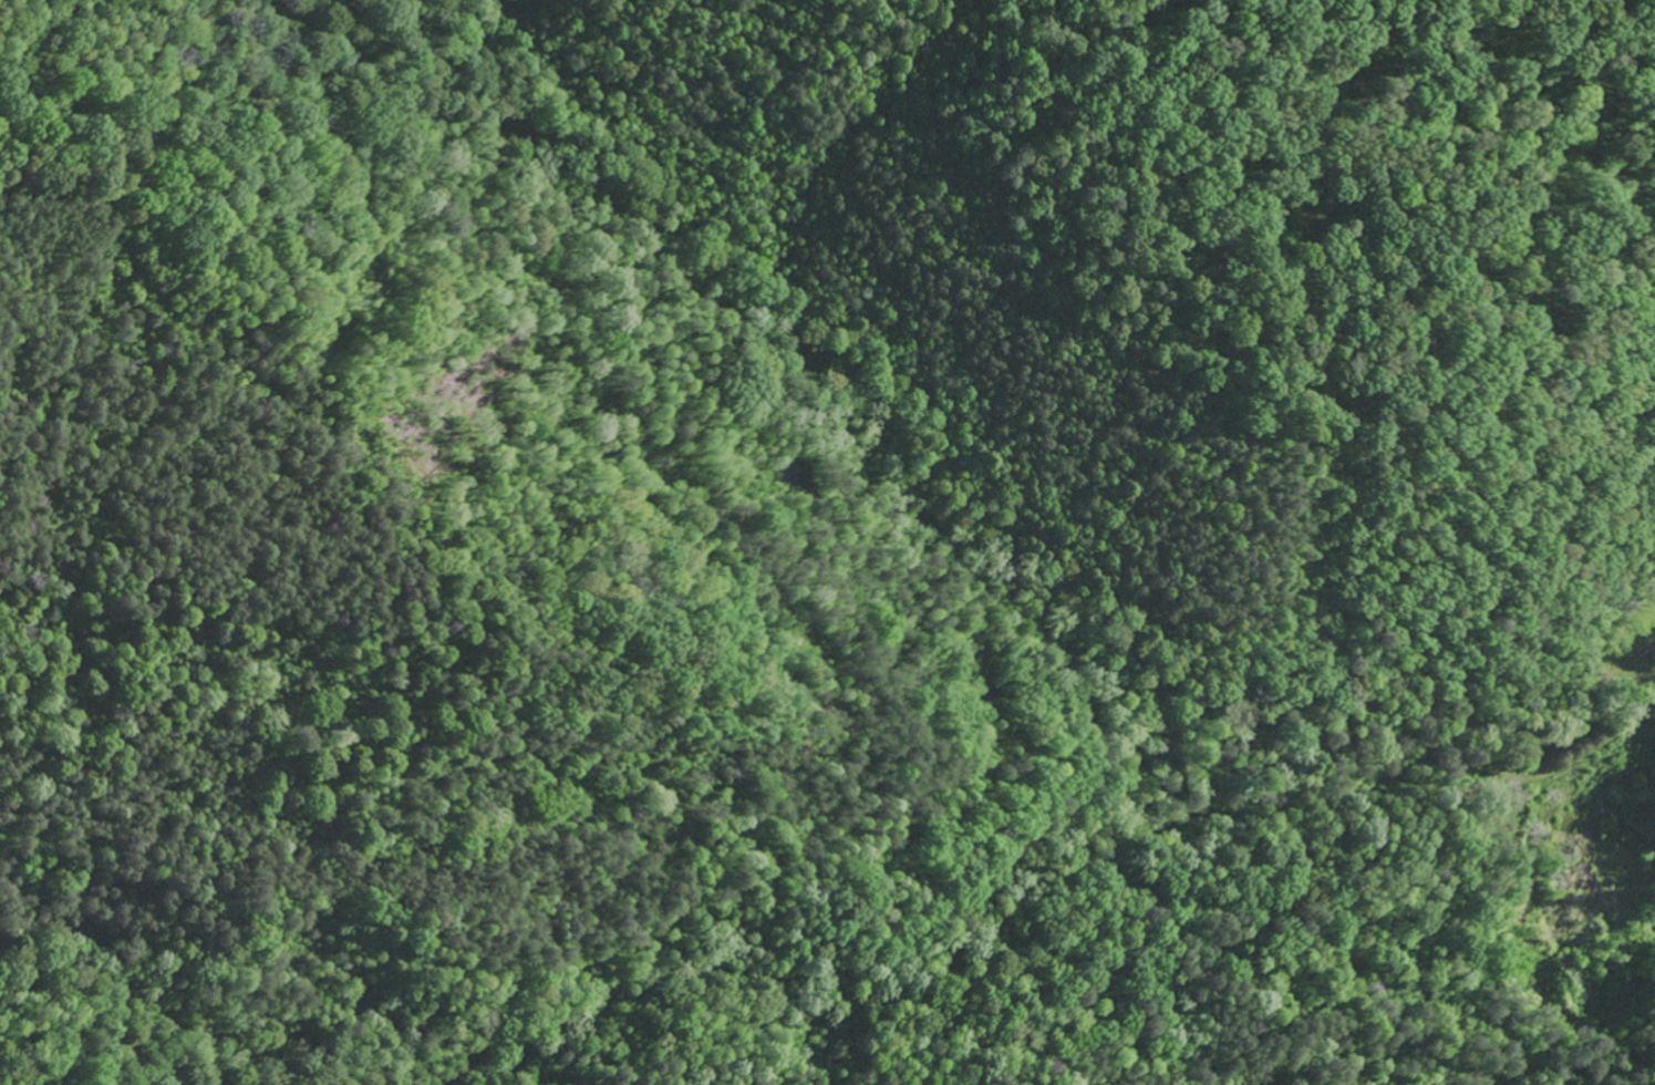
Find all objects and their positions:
road: (996, 573)

